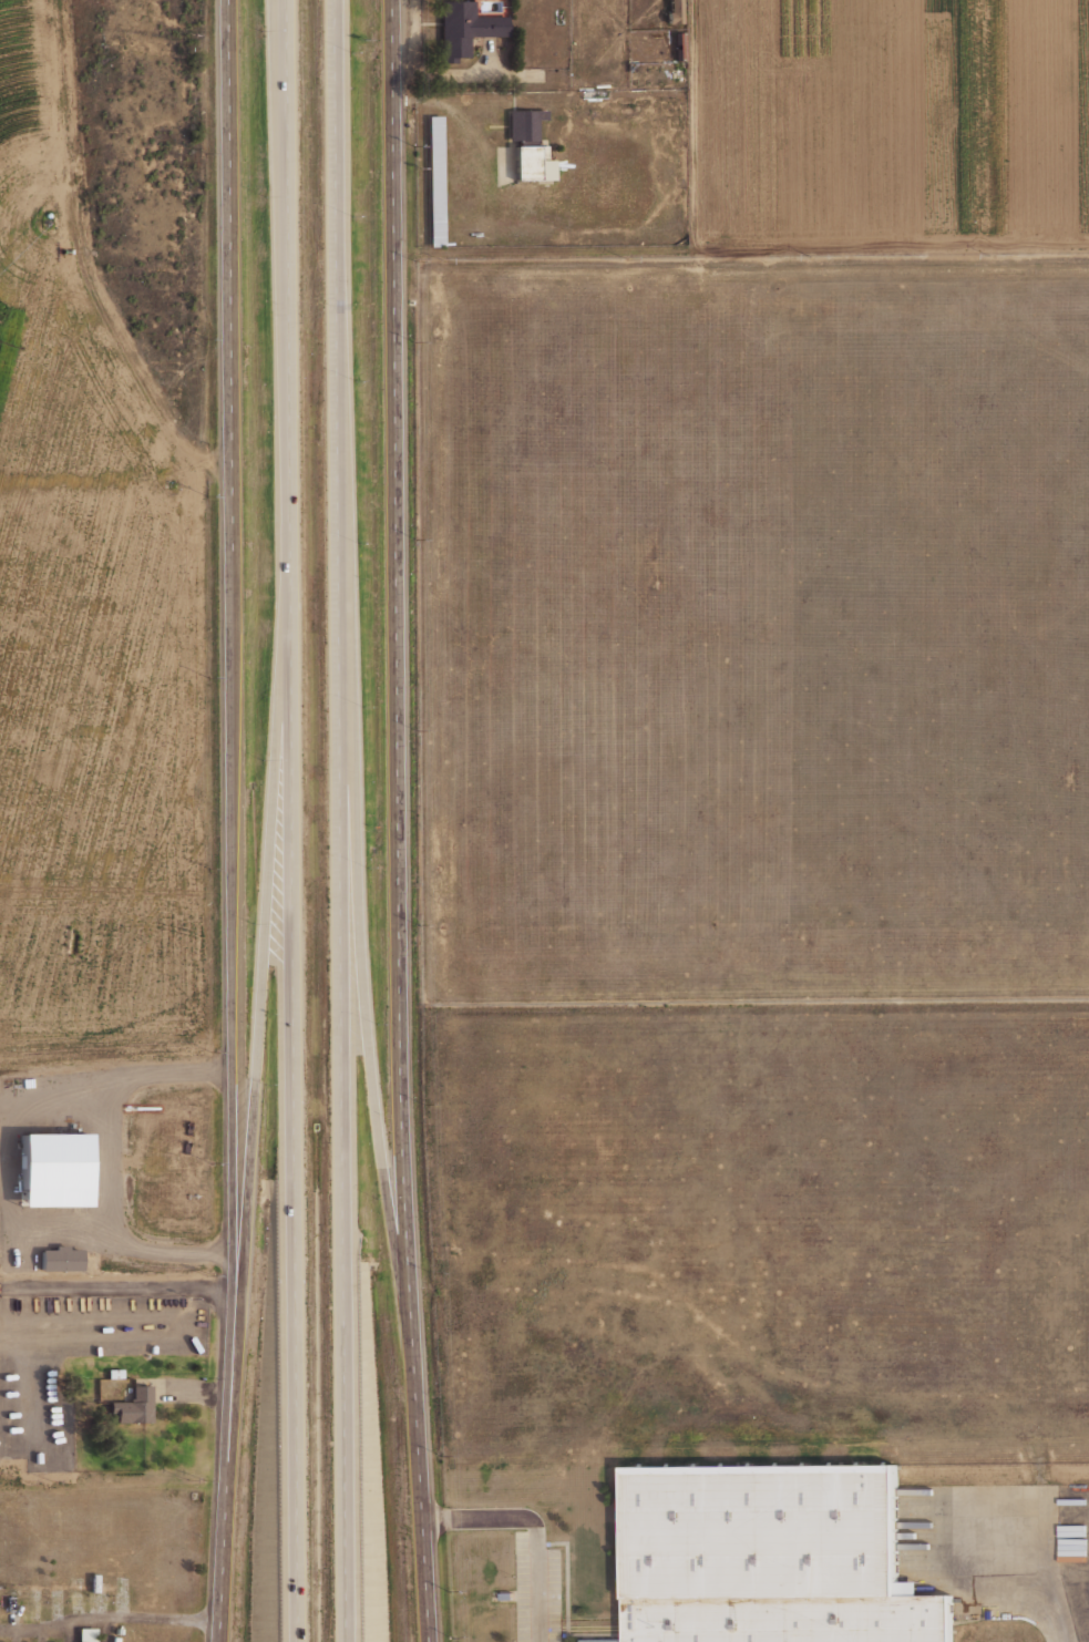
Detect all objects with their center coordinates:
crop: (896, 8)
building: (672, 12)
building: (463, 29)
building: (679, 45)
crop: (20, 57)
building: (678, 75)
building: (523, 124)
building: (530, 163)
building: (434, 181)
road: (778, 239)
road: (121, 357)
crop: (2, 363)
airport: (752, 625)
road: (292, 820)
road: (342, 820)
road: (233, 821)
road: (399, 821)
building: (32, 937)
building: (187, 969)
road: (261, 993)
road: (370, 1050)
building: (47, 1169)
building: (8, 1256)
building: (58, 1258)
road: (121, 1284)
building: (112, 1373)
building: (132, 1406)
road: (531, 1527)
building: (770, 1556)
road: (1047, 1569)
building: (120, 1588)
building: (92, 1592)
building: (35, 1599)
building: (9, 1603)
building: (116, 1630)
building: (85, 1634)
building: (125, 1636)
building: (113, 1639)

